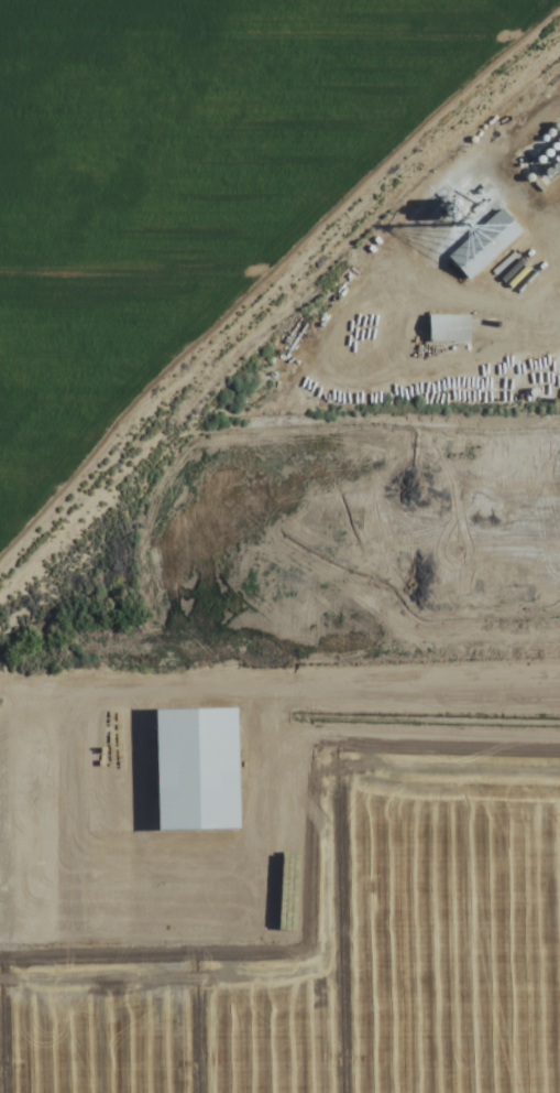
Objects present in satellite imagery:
building: (557, 126)
building: (551, 132)
building: (546, 139)
building: (559, 140)
building: (557, 147)
building: (550, 152)
building: (543, 159)
building: (557, 160)
building: (552, 165)
building: (524, 169)
building: (545, 170)
building: (529, 177)
railway: (437, 186)
building: (463, 202)
building: (455, 208)
building: (469, 209)
building: (462, 215)
building: (484, 242)
building: (449, 328)
crop: (279, 546)

